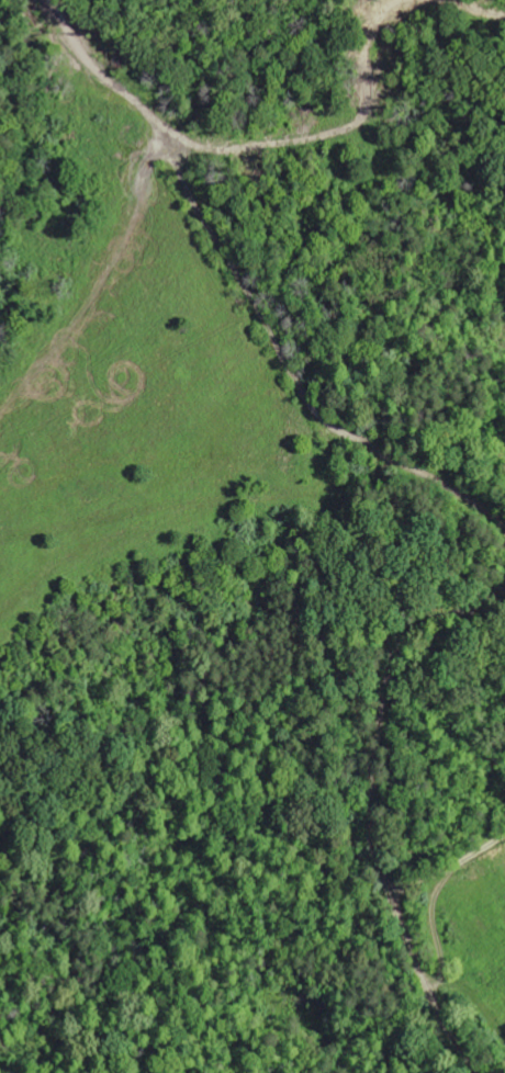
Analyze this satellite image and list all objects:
road: (450, 972)

